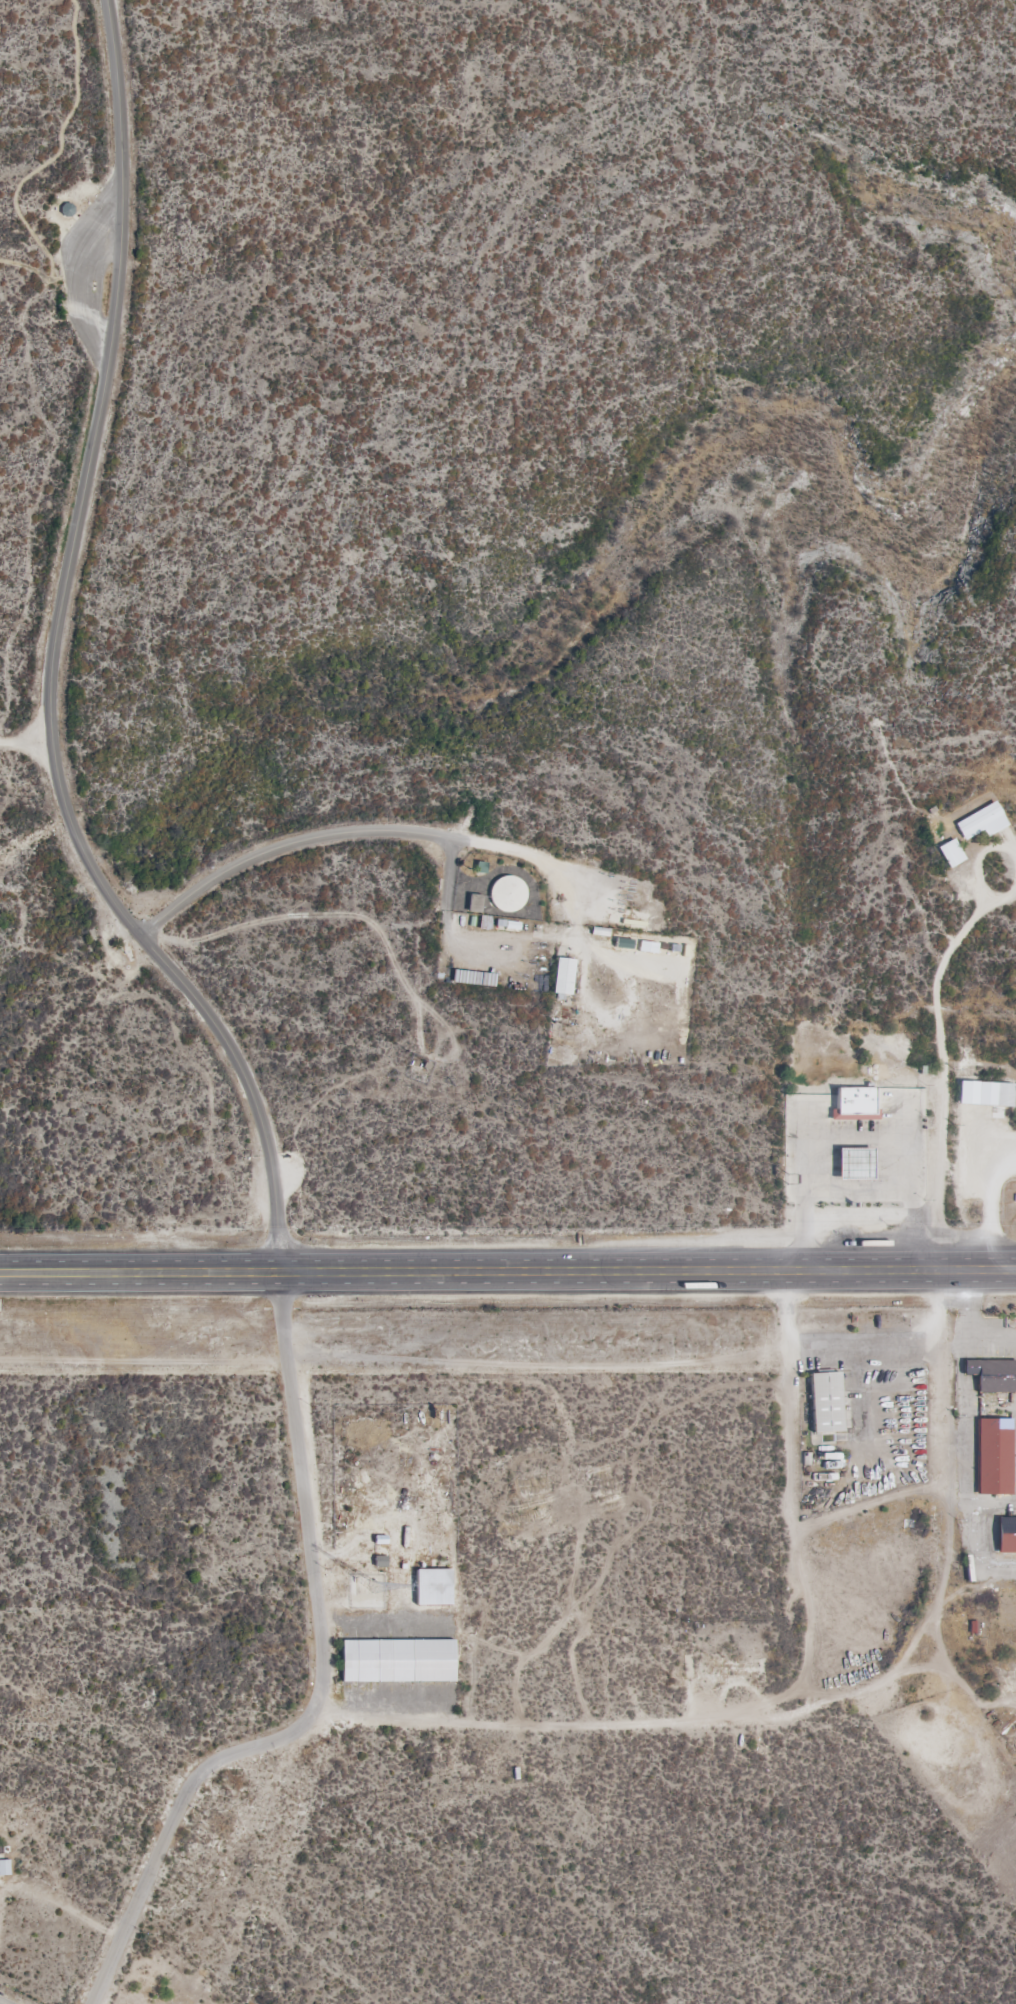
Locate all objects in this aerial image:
road: (52, 664)
road: (26, 740)
building: (982, 822)
road: (478, 842)
road: (1005, 849)
building: (951, 853)
building: (507, 895)
road: (982, 895)
building: (474, 904)
building: (626, 922)
road: (446, 935)
building: (562, 976)
building: (985, 1094)
building: (853, 1104)
building: (854, 1164)
road: (507, 1271)
building: (991, 1375)
building: (824, 1402)
building: (993, 1457)
road: (794, 1488)
road: (304, 1494)
road: (980, 1503)
building: (1005, 1534)
road: (946, 1568)
building: (397, 1661)
road: (170, 1827)

